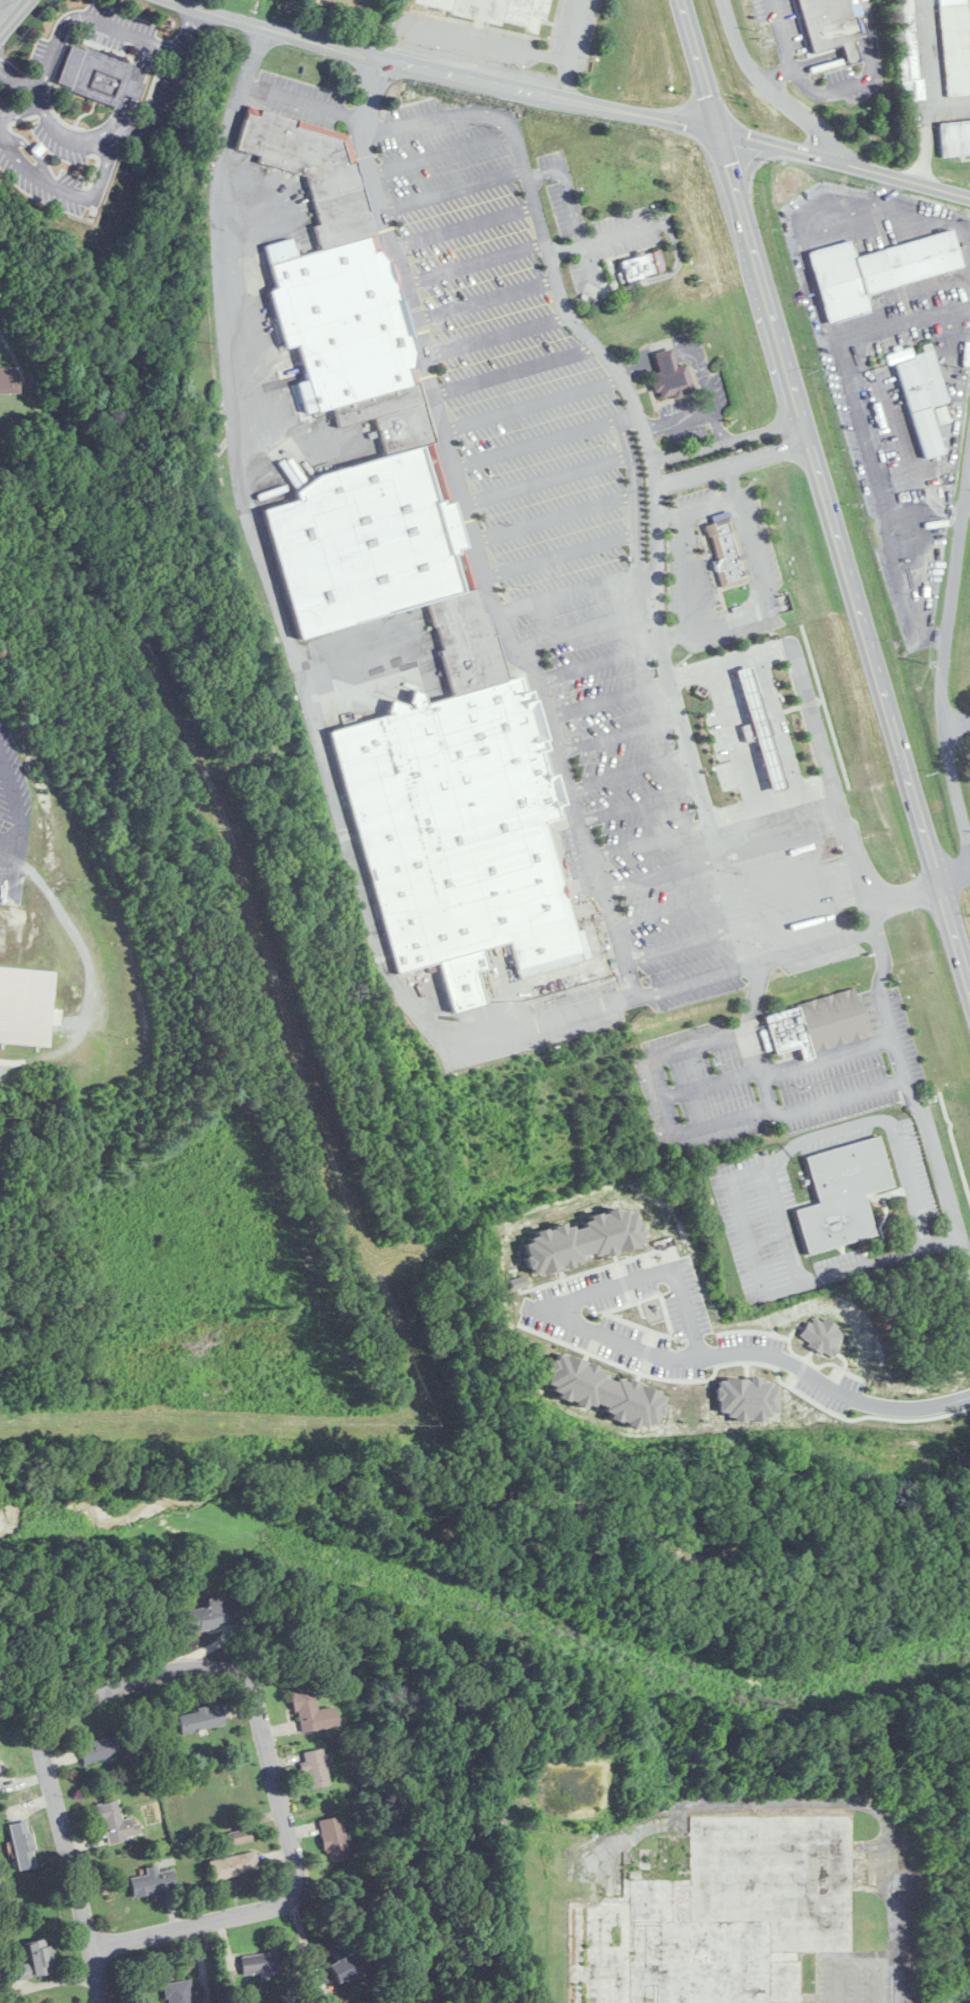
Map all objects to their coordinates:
building: (499, 11)
road: (15, 18)
road: (93, 22)
building: (828, 27)
road: (781, 34)
building: (956, 46)
road: (862, 47)
road: (850, 50)
building: (907, 52)
road: (819, 60)
road: (776, 73)
building: (98, 77)
road: (864, 78)
road: (925, 90)
road: (776, 98)
road: (578, 99)
road: (121, 133)
building: (955, 138)
building: (309, 176)
road: (453, 189)
road: (949, 221)
road: (466, 226)
building: (643, 265)
building: (877, 271)
road: (486, 299)
building: (338, 321)
road: (683, 342)
building: (670, 376)
building: (8, 381)
road: (631, 395)
building: (922, 396)
road: (532, 404)
road: (678, 417)
building: (384, 418)
road: (718, 423)
road: (861, 431)
road: (727, 438)
road: (545, 439)
road: (733, 461)
road: (825, 492)
road: (634, 497)
road: (707, 503)
road: (967, 509)
road: (923, 511)
road: (554, 517)
road: (471, 531)
building: (368, 545)
road: (561, 554)
building: (722, 555)
road: (687, 559)
road: (763, 588)
road: (575, 592)
road: (587, 629)
building: (464, 645)
road: (944, 655)
road: (775, 723)
road: (956, 723)
road: (812, 726)
building: (759, 731)
road: (735, 734)
road: (10, 790)
road: (769, 799)
road: (336, 803)
road: (16, 833)
building: (461, 833)
road: (954, 872)
road: (791, 874)
road: (884, 1004)
building: (26, 1006)
building: (817, 1021)
road: (751, 1034)
road: (680, 1048)
road: (672, 1118)
road: (887, 1122)
road: (939, 1158)
building: (840, 1196)
road: (791, 1247)
road: (684, 1323)
road: (830, 1383)
building: (212, 1615)
road: (244, 1671)
building: (312, 1712)
building: (201, 1719)
building: (104, 1748)
building: (315, 1768)
building: (0, 1769)
building: (116, 1823)
building: (23, 1845)
building: (333, 1845)
building: (233, 1865)
building: (153, 1881)
building: (721, 1917)
building: (34, 1961)
building: (264, 1963)
building: (343, 1968)
road: (96, 1976)
building: (179, 1992)

